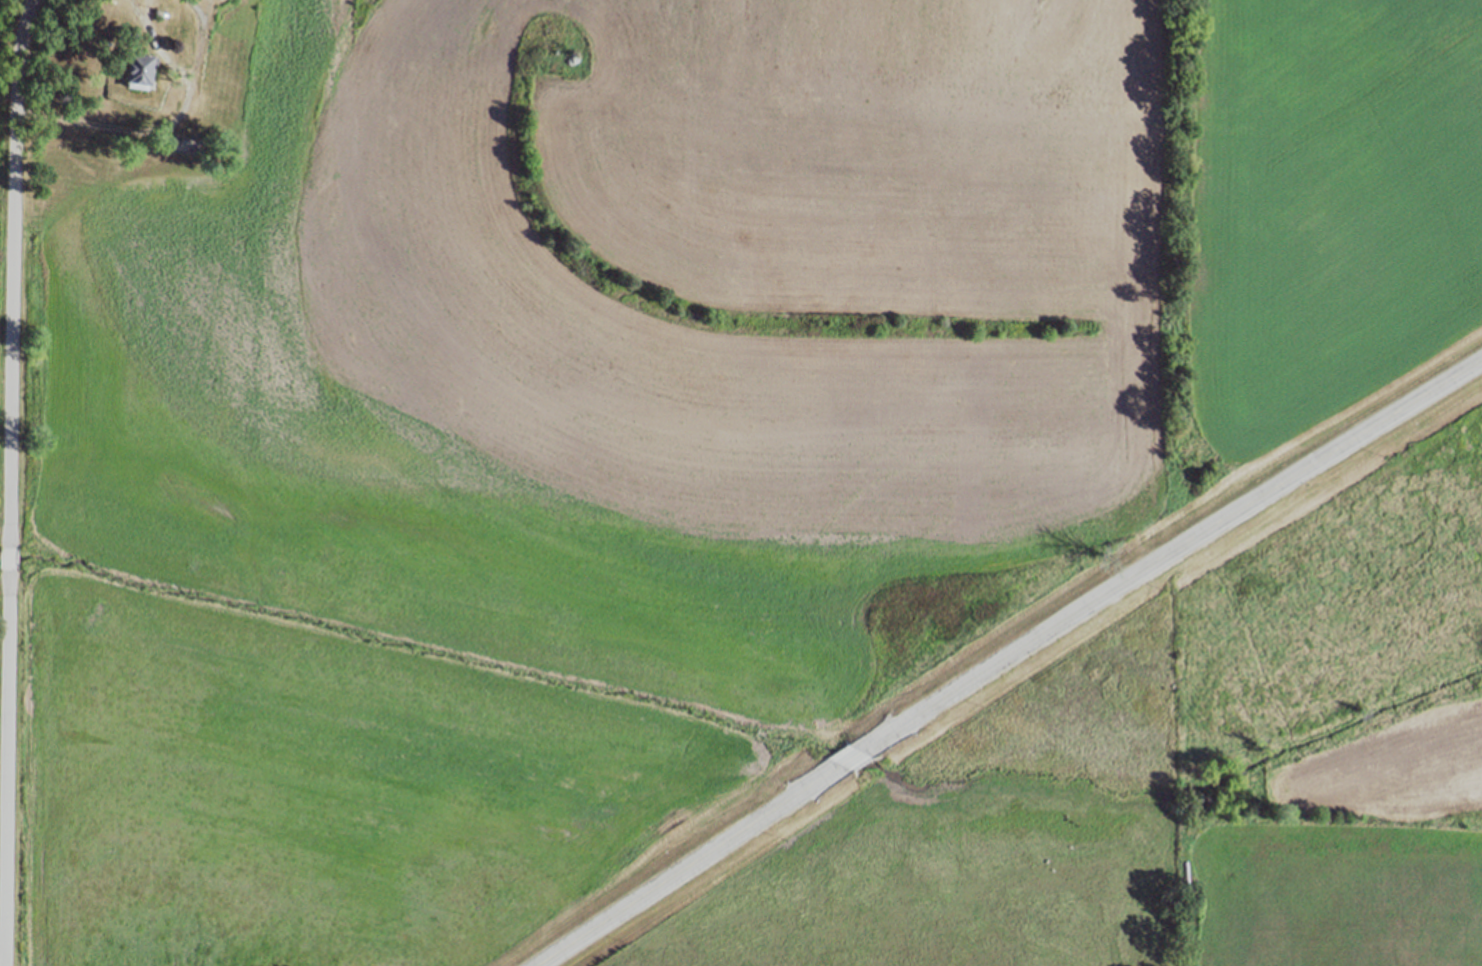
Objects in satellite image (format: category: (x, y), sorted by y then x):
building: (133, 36)
building: (138, 71)
road: (162, 127)
building: (174, 139)
road: (10, 482)
road: (1007, 656)
road: (3, 941)

